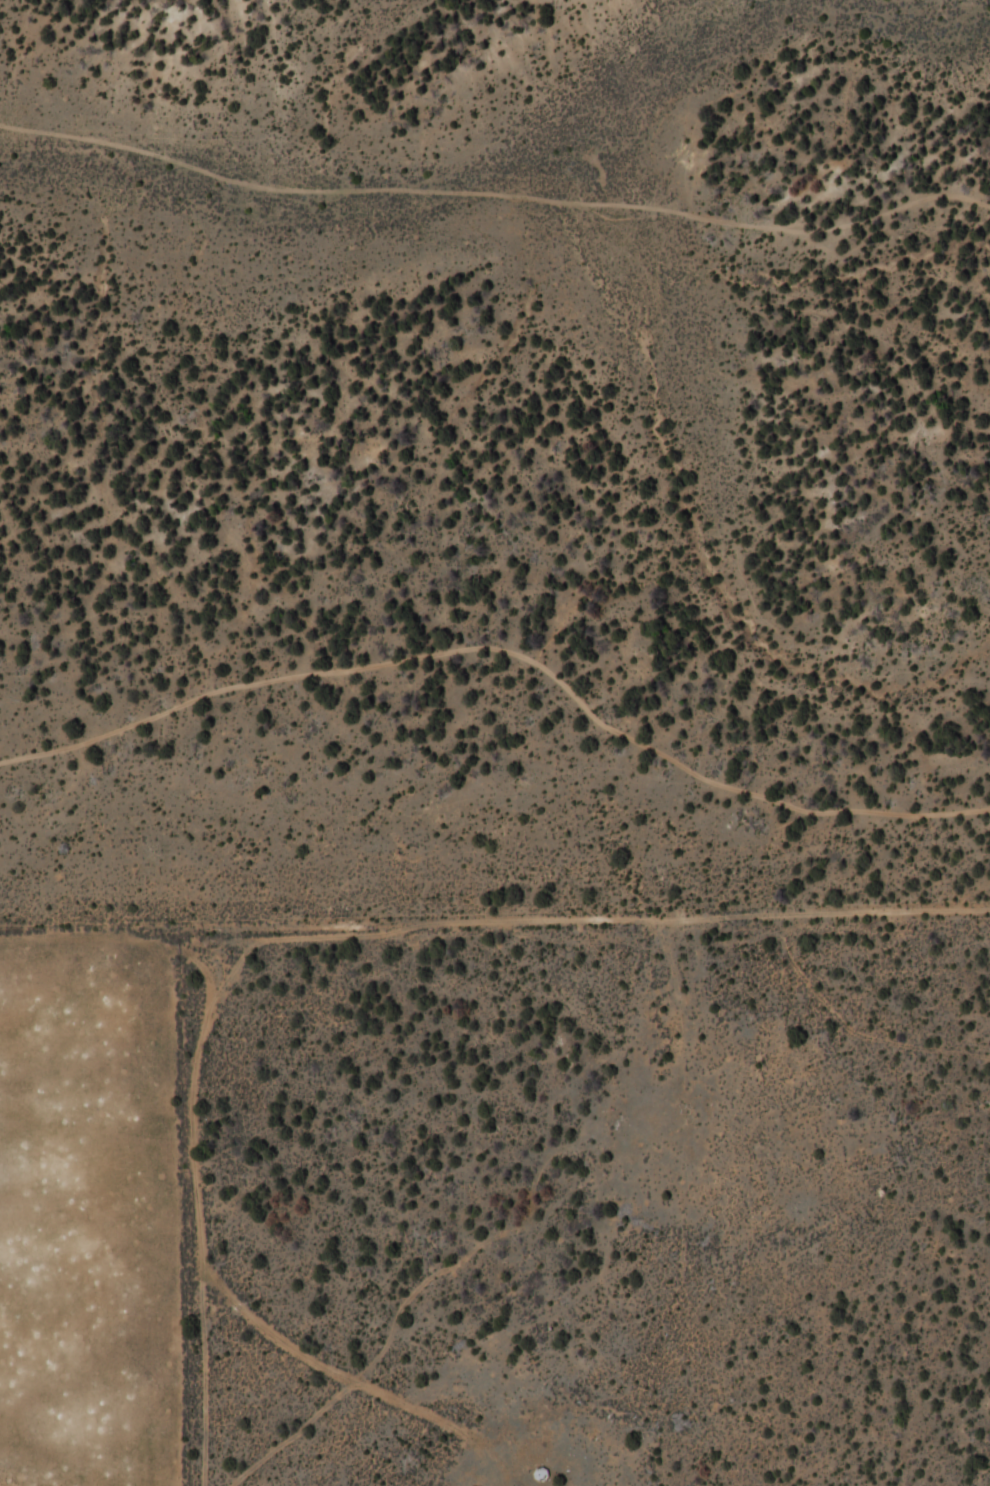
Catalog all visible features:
road: (971, 892)
road: (494, 920)

